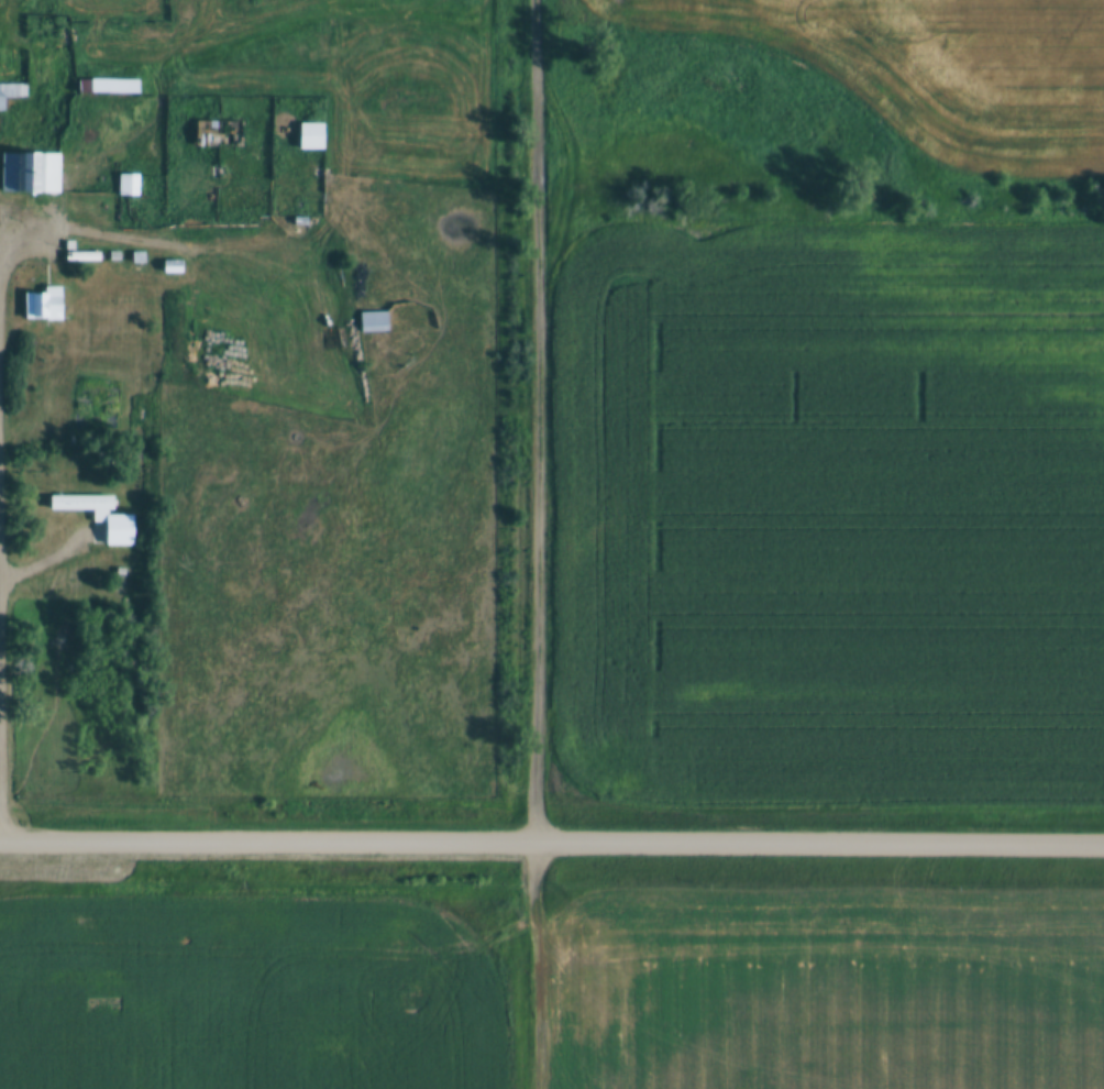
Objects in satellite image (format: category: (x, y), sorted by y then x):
building: (110, 89)
building: (216, 135)
building: (307, 137)
building: (27, 175)
building: (125, 186)
building: (78, 257)
building: (168, 267)
building: (40, 307)
building: (369, 323)
road: (536, 419)
building: (79, 506)
road: (3, 526)
road: (40, 562)
road: (552, 839)
road: (537, 964)

